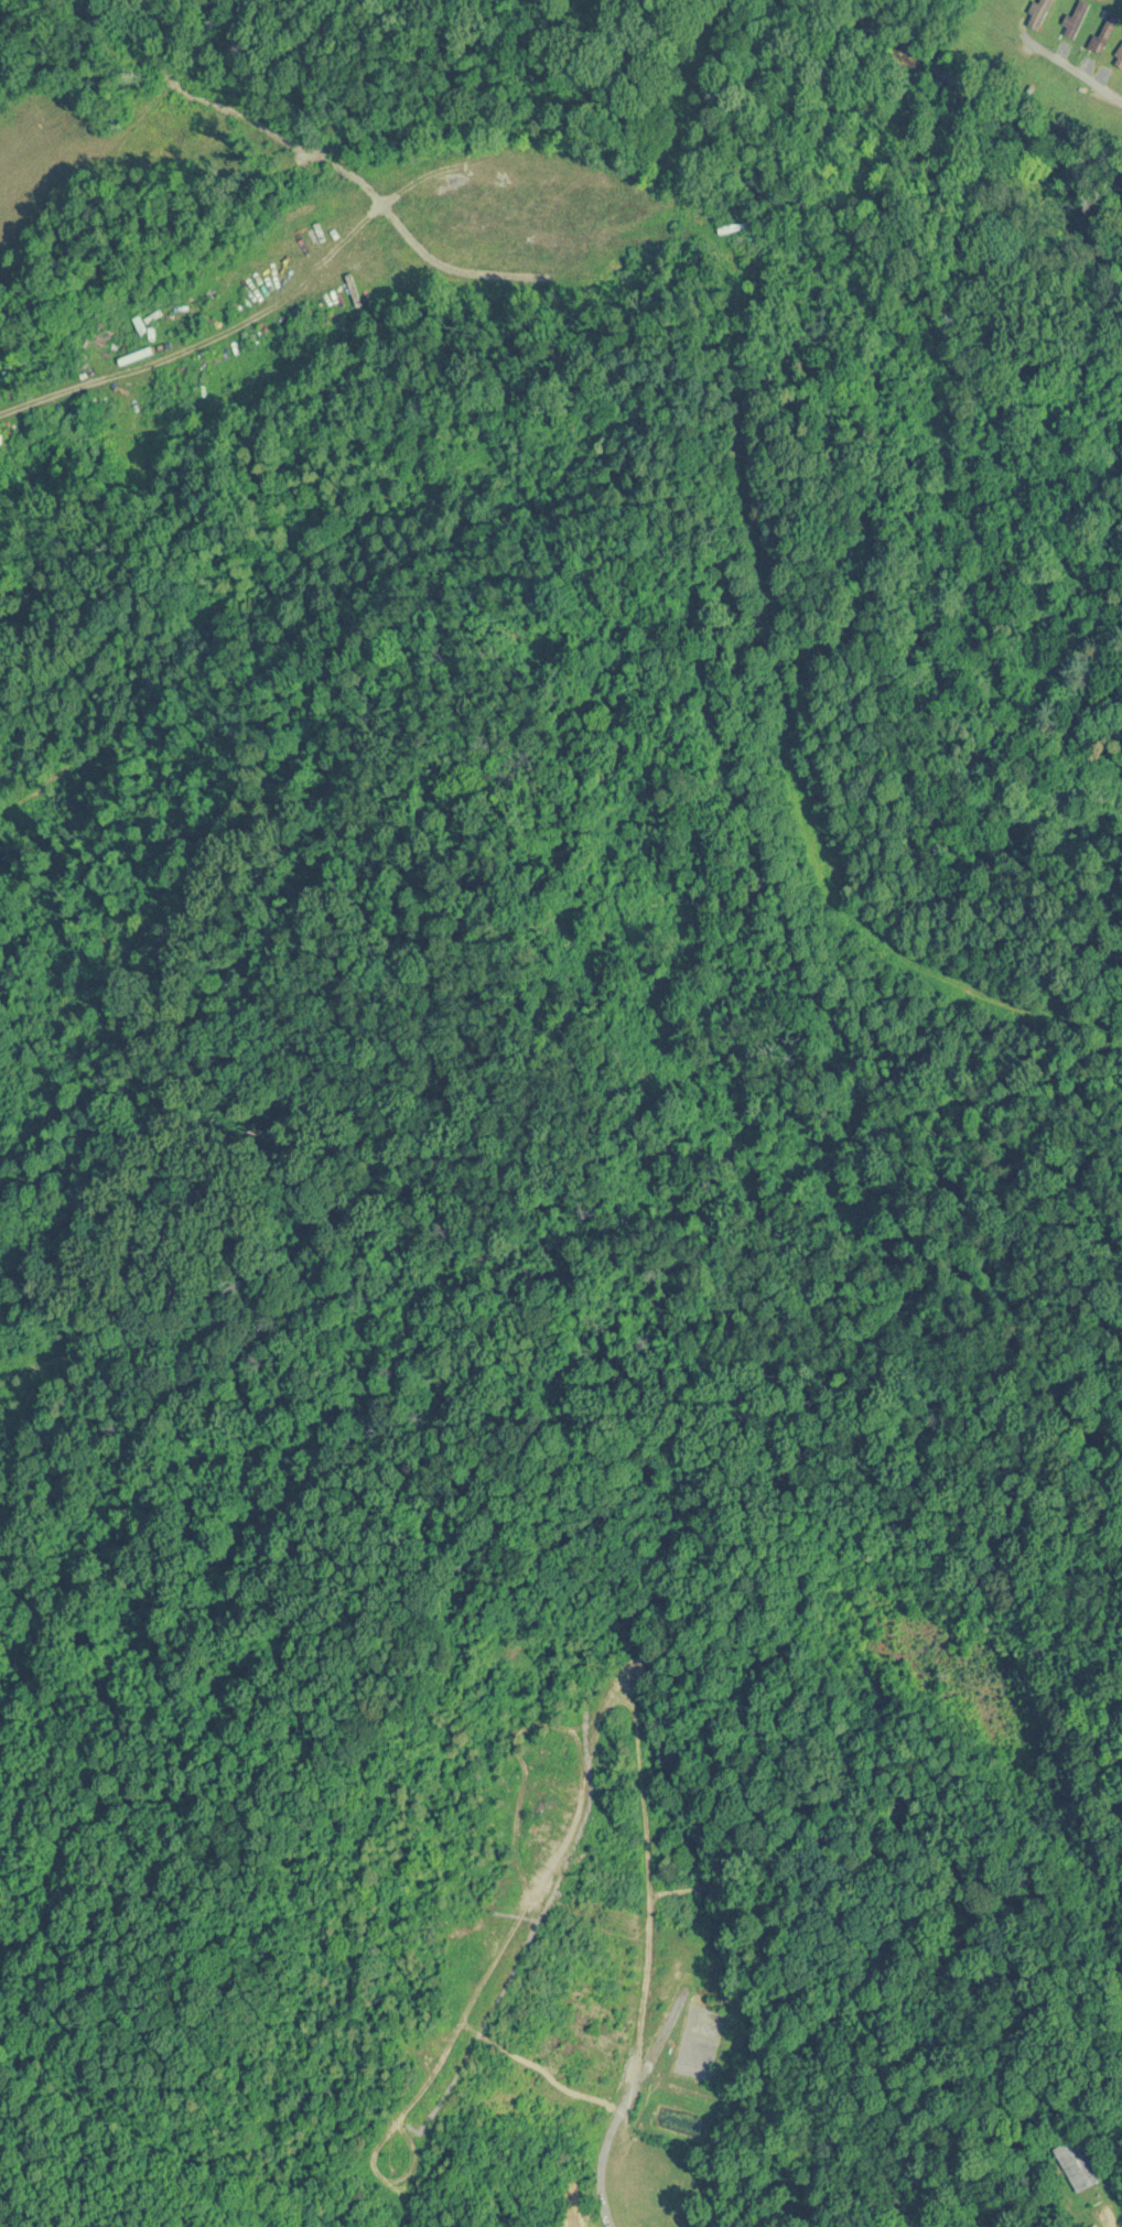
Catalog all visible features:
building: (1039, 13)
building: (1076, 19)
building: (1104, 31)
building: (1118, 58)
road: (1074, 71)
road: (1023, 2156)
building: (1078, 2163)

